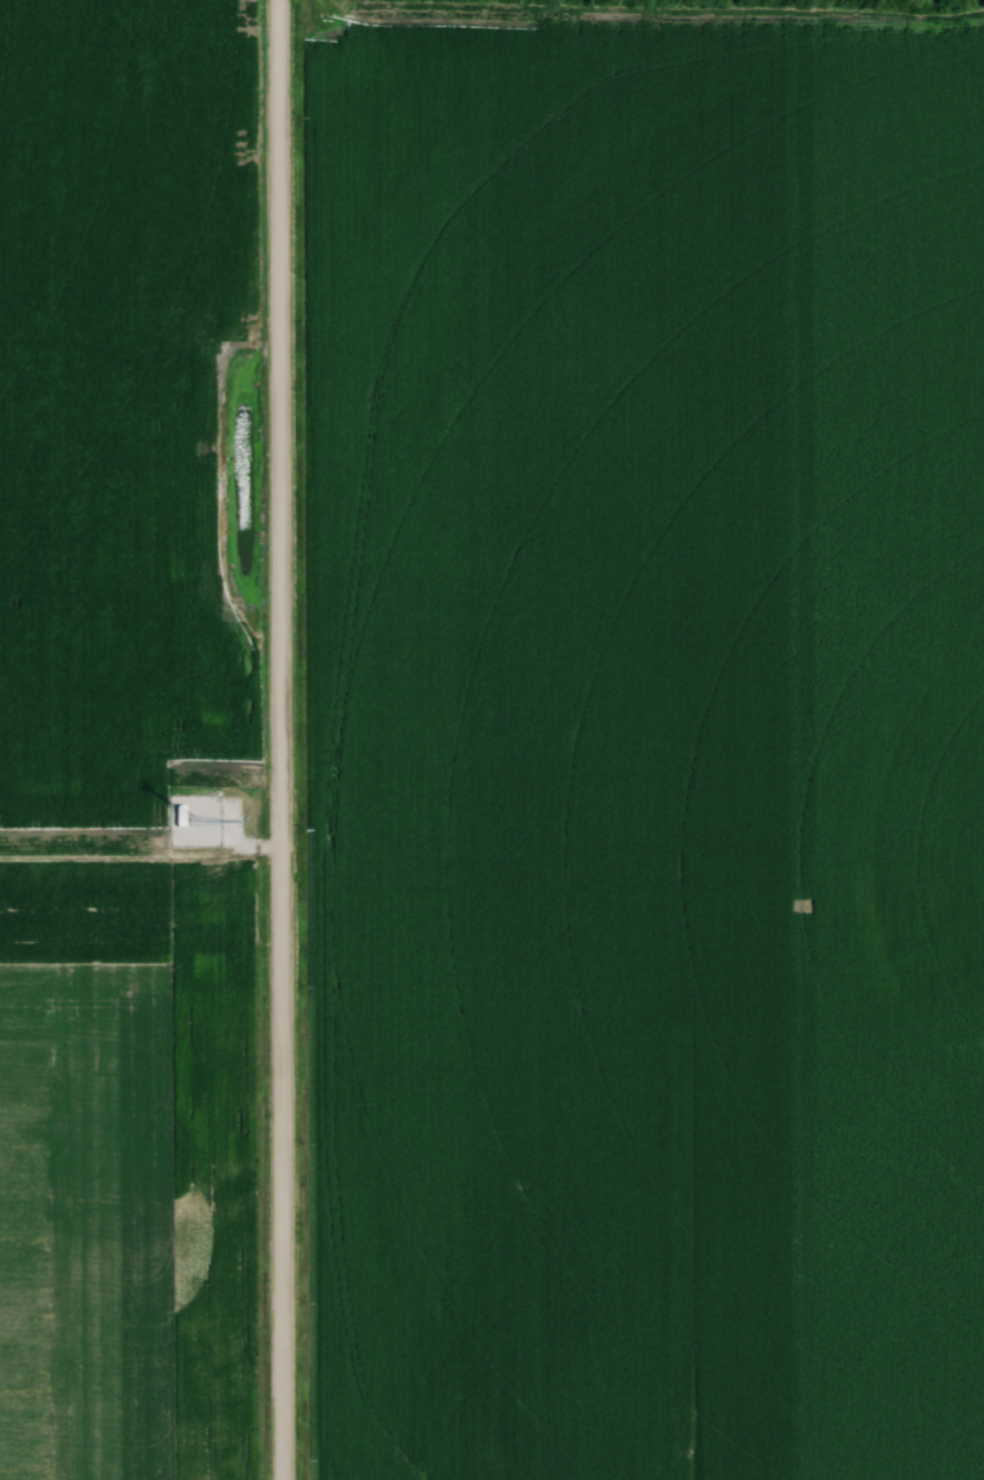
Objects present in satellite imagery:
crop: (115, 404)
road: (277, 740)

